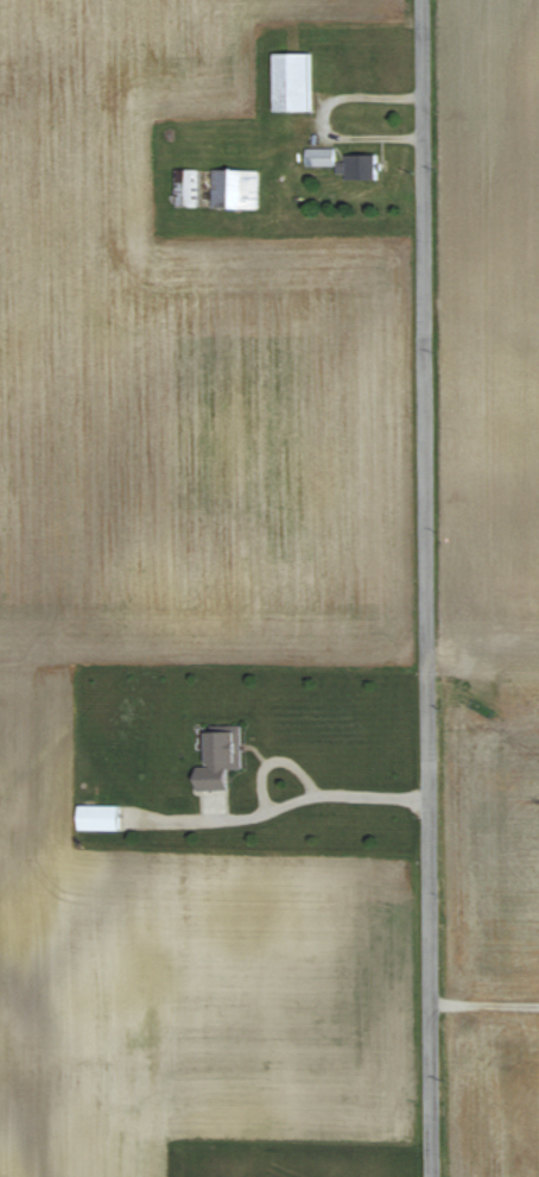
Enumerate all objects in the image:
building: (290, 82)
building: (342, 163)
building: (185, 188)
building: (234, 189)
road: (425, 587)
building: (218, 757)
road: (291, 795)
building: (97, 818)
road: (483, 1003)

